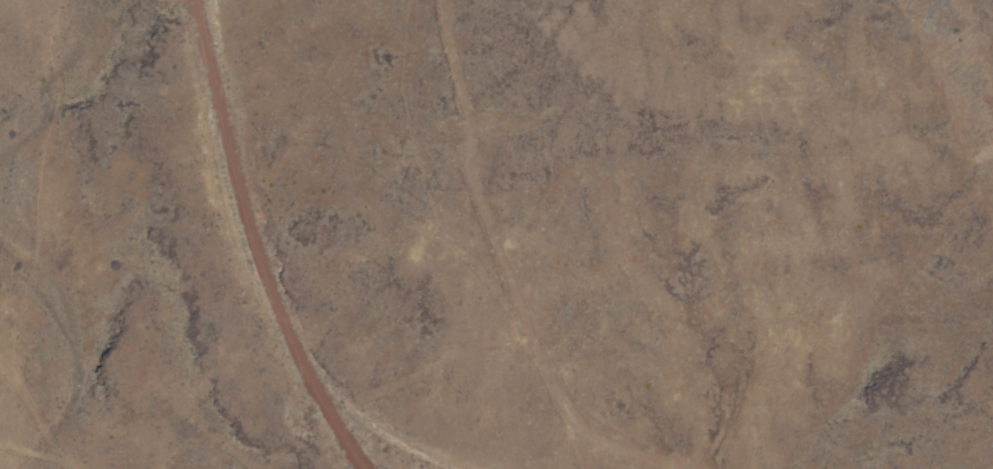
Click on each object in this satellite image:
road: (532, 285)

